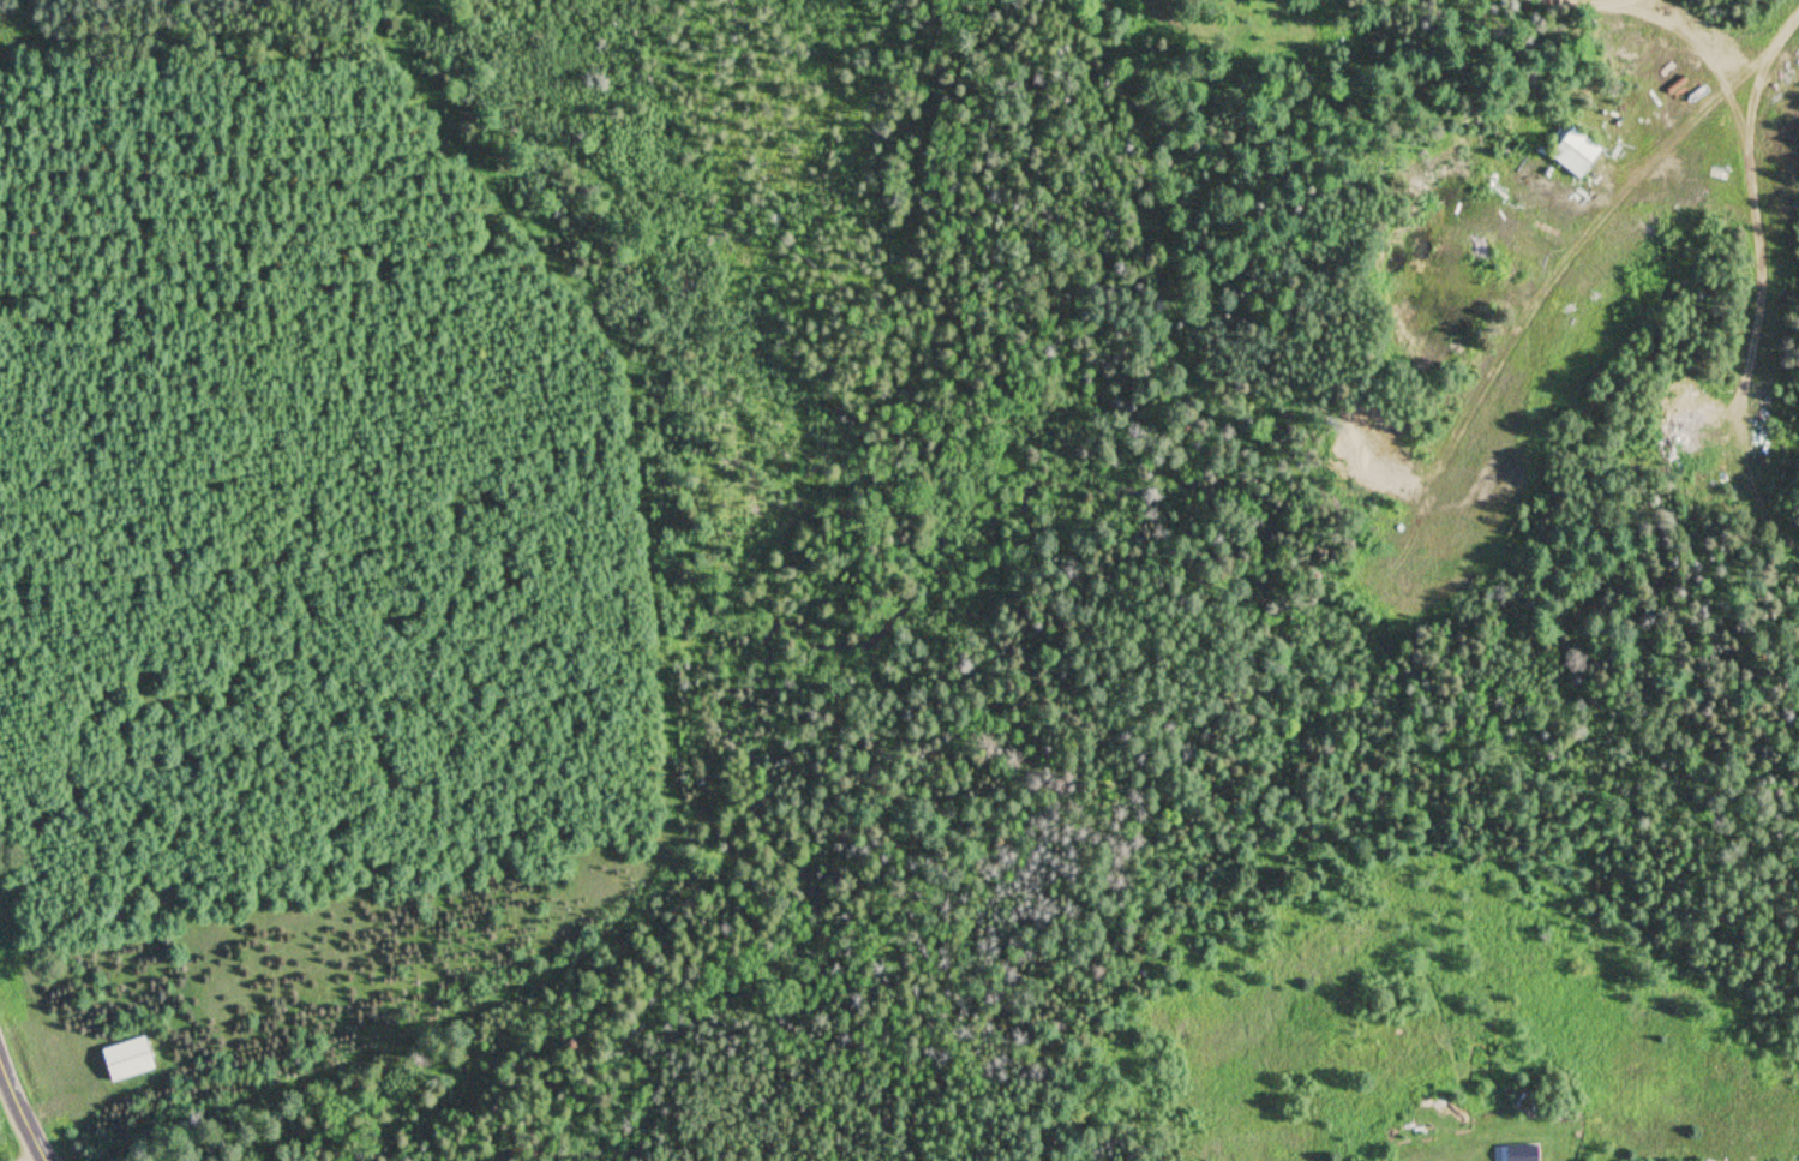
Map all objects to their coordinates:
road: (1752, 48)
building: (1570, 154)
building: (121, 1059)
road: (24, 1109)

